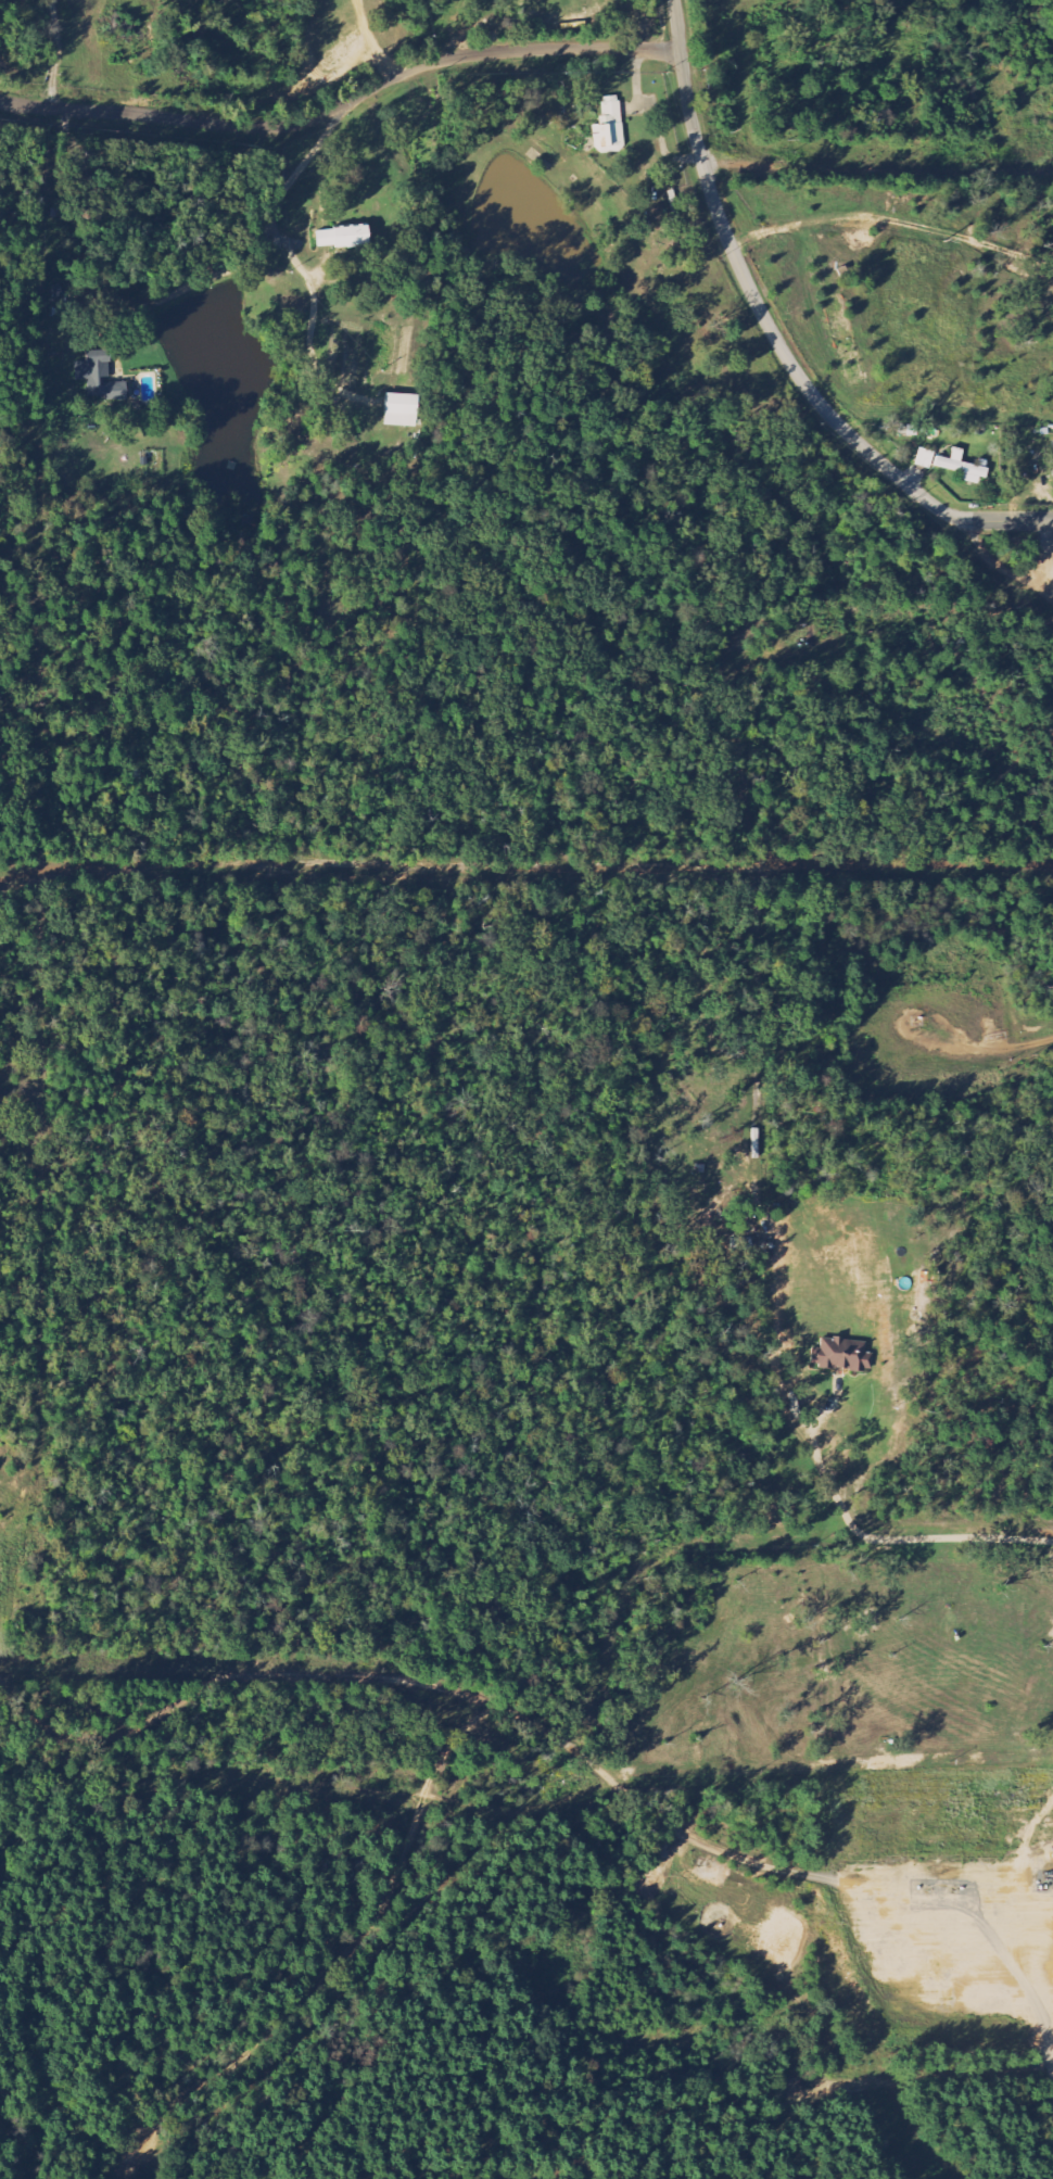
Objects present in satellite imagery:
road: (341, 103)
building: (609, 127)
road: (700, 155)
building: (342, 237)
building: (99, 377)
building: (402, 410)
road: (878, 456)
building: (924, 458)
building: (962, 467)
building: (1052, 472)
road: (1044, 553)
road: (1004, 568)
road: (733, 739)
road: (919, 865)
road: (246, 866)
road: (640, 867)
road: (900, 1017)
road: (1018, 1048)
road: (773, 1296)
building: (841, 1356)
road: (899, 1538)
road: (230, 1678)
road: (829, 1772)
road: (785, 1872)
road: (342, 1961)
road: (1044, 1964)
road: (930, 2074)

